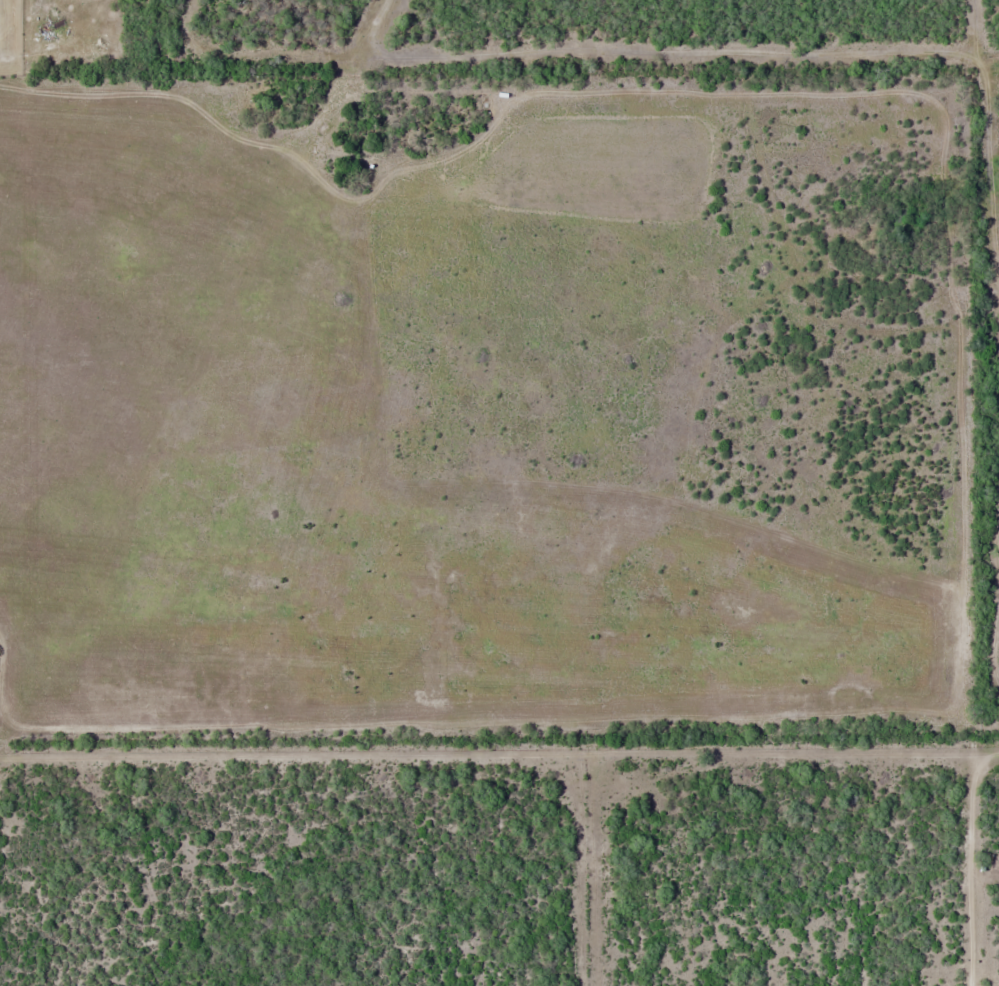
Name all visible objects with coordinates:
wastewater plant: (10, 37)

